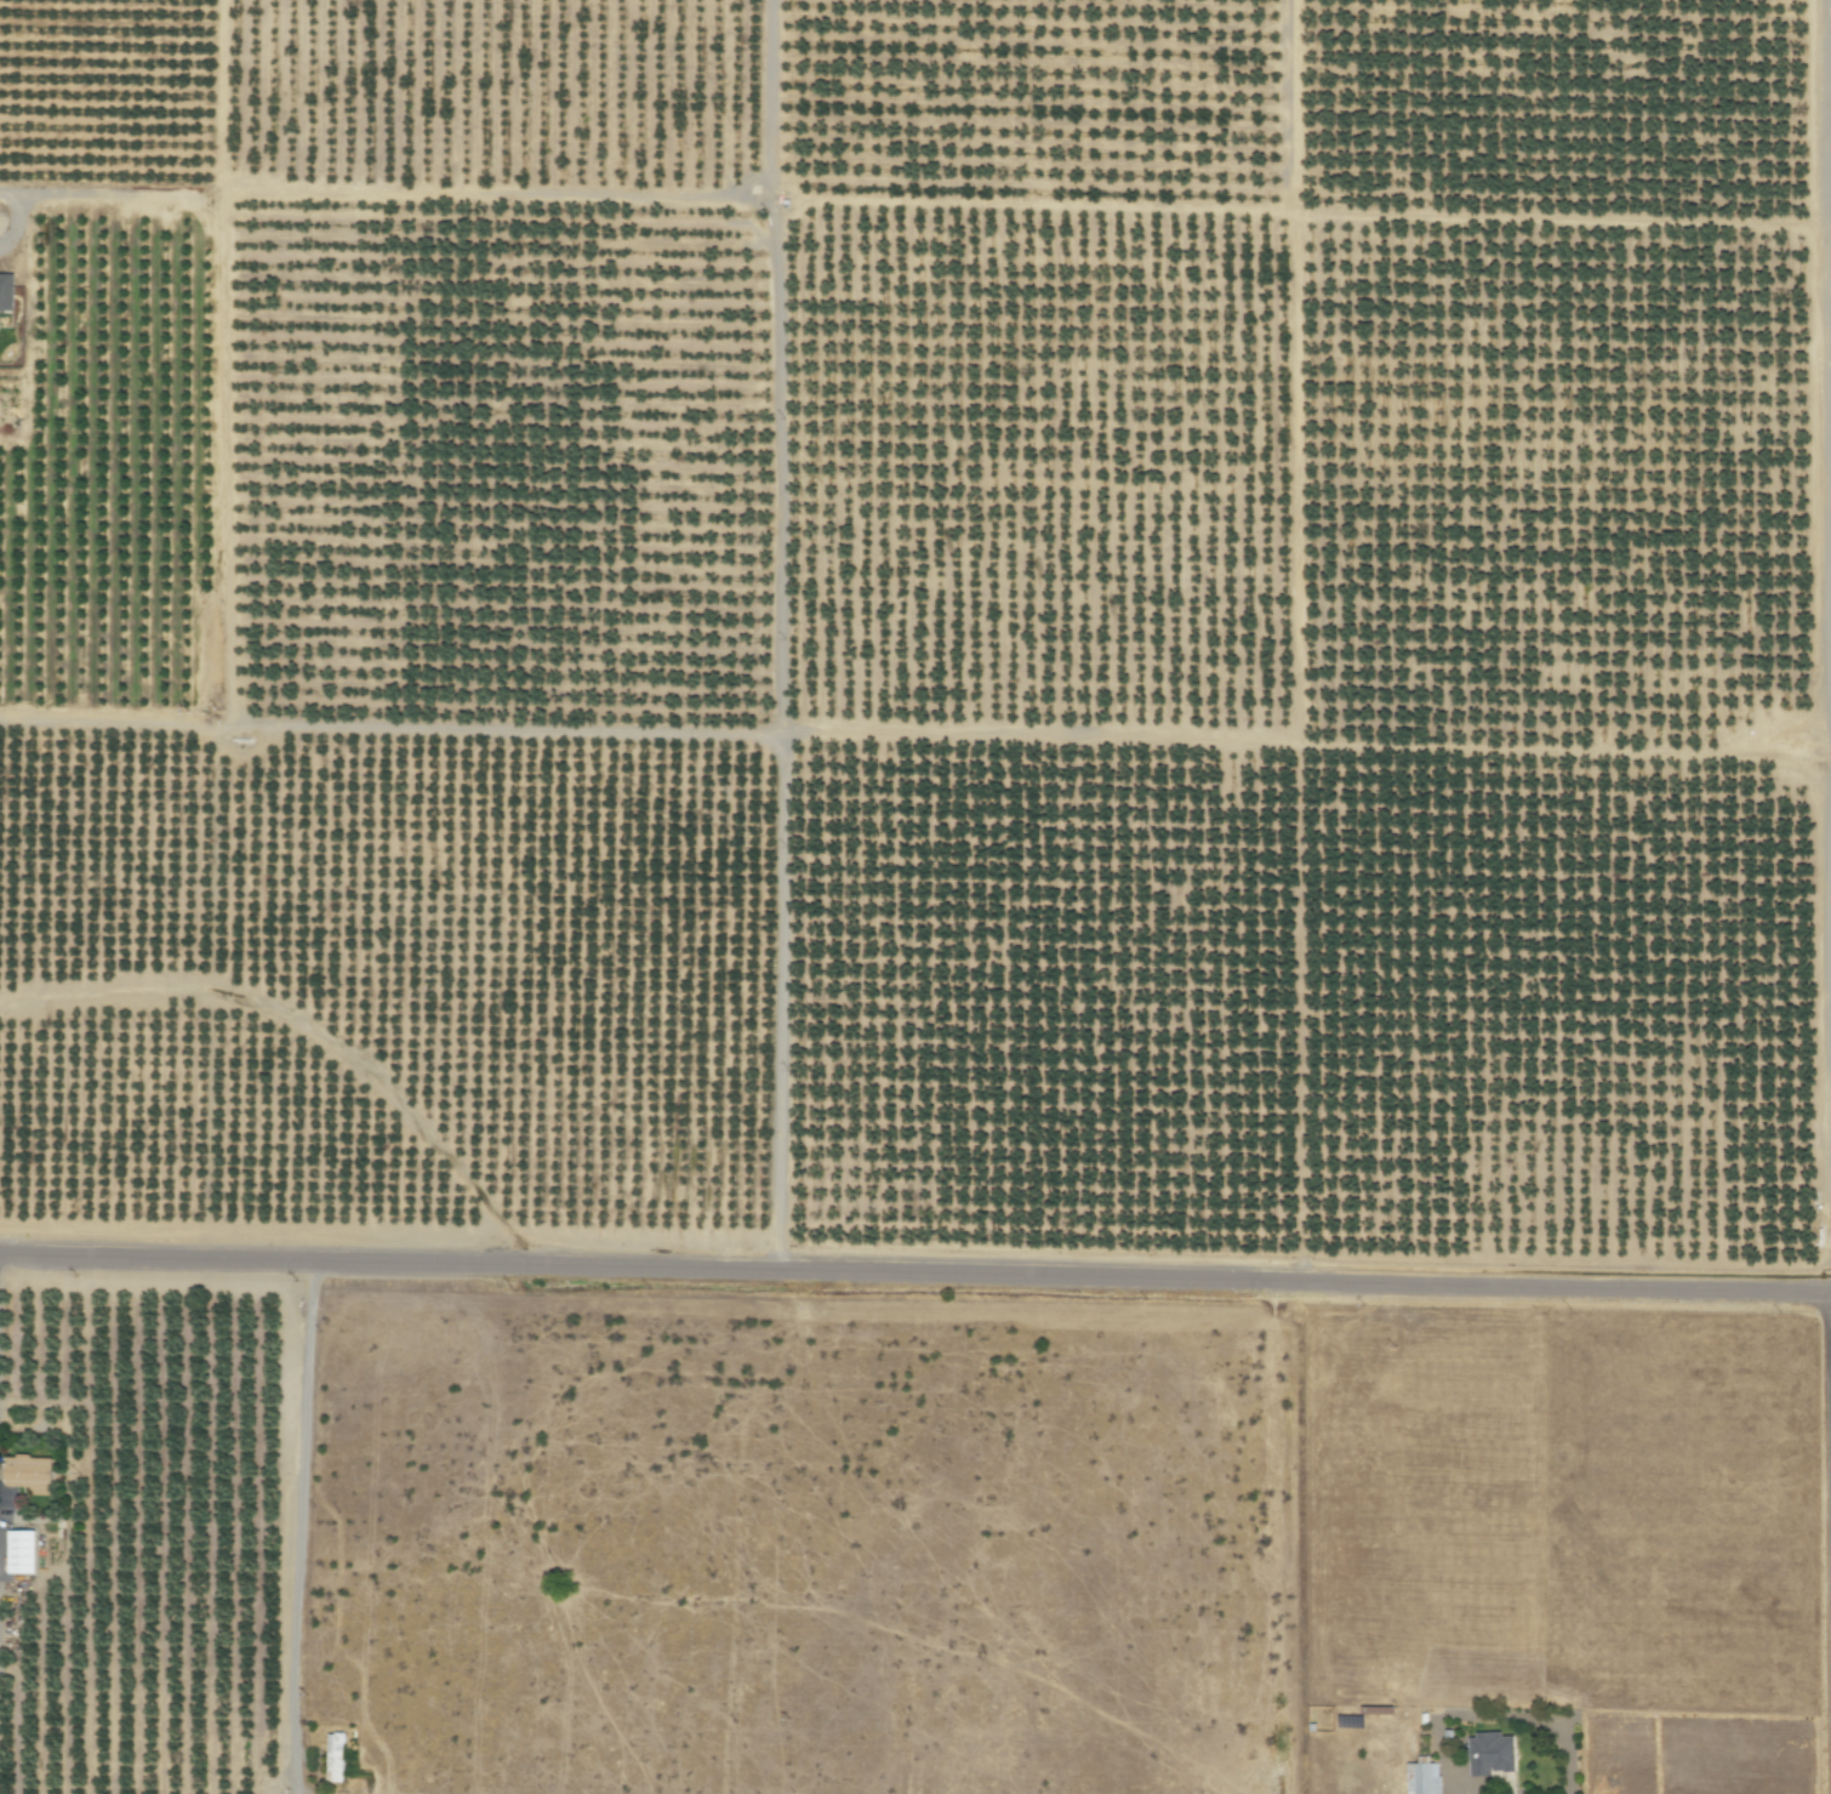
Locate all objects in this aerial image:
road: (15, 220)
building: (5, 292)
road: (1827, 552)
road: (915, 1270)
building: (24, 1474)
building: (16, 1551)
road: (1524, 1718)
building: (1489, 1754)
building: (332, 1758)
building: (1420, 1778)
road: (1455, 1783)

